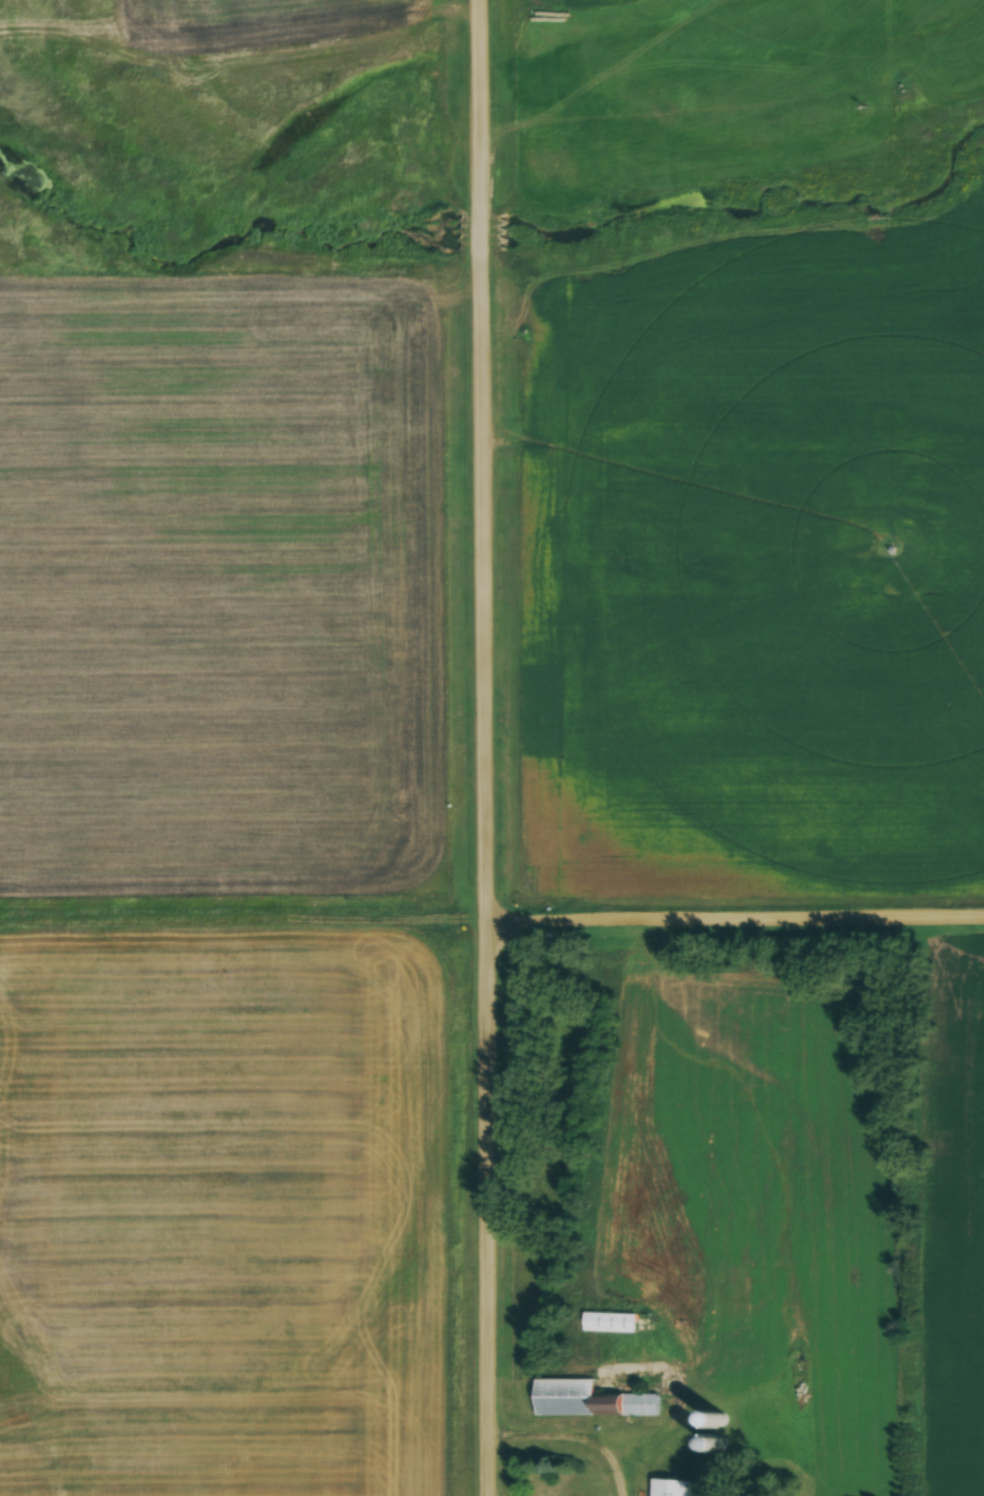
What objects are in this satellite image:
road: (490, 747)
road: (737, 922)
building: (550, 1168)
building: (609, 1323)
building: (589, 1400)
building: (671, 1488)

